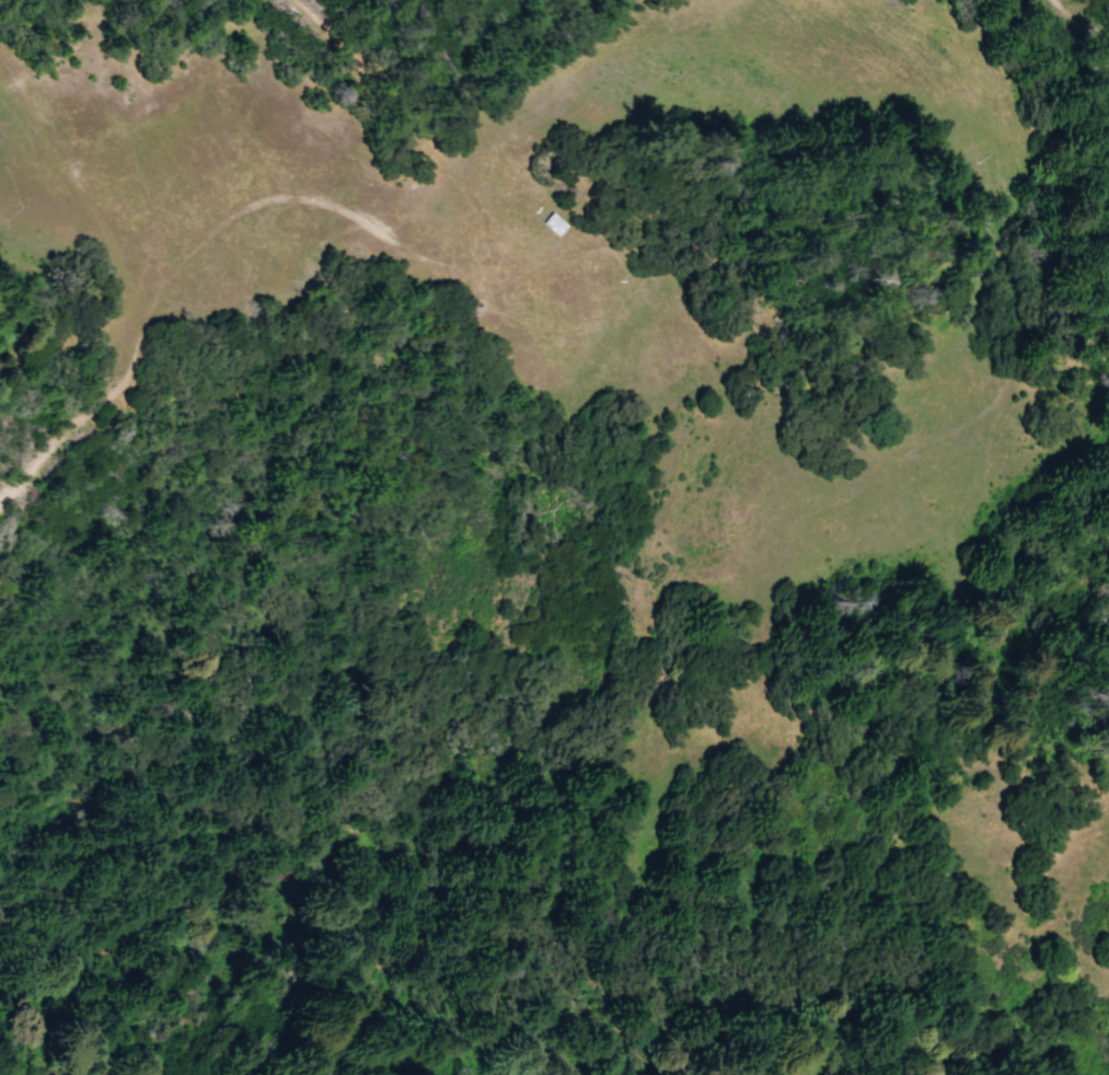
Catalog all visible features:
road: (1081, 21)
road: (439, 154)
road: (78, 196)
building: (553, 222)
road: (198, 255)
road: (28, 345)
road: (952, 431)

